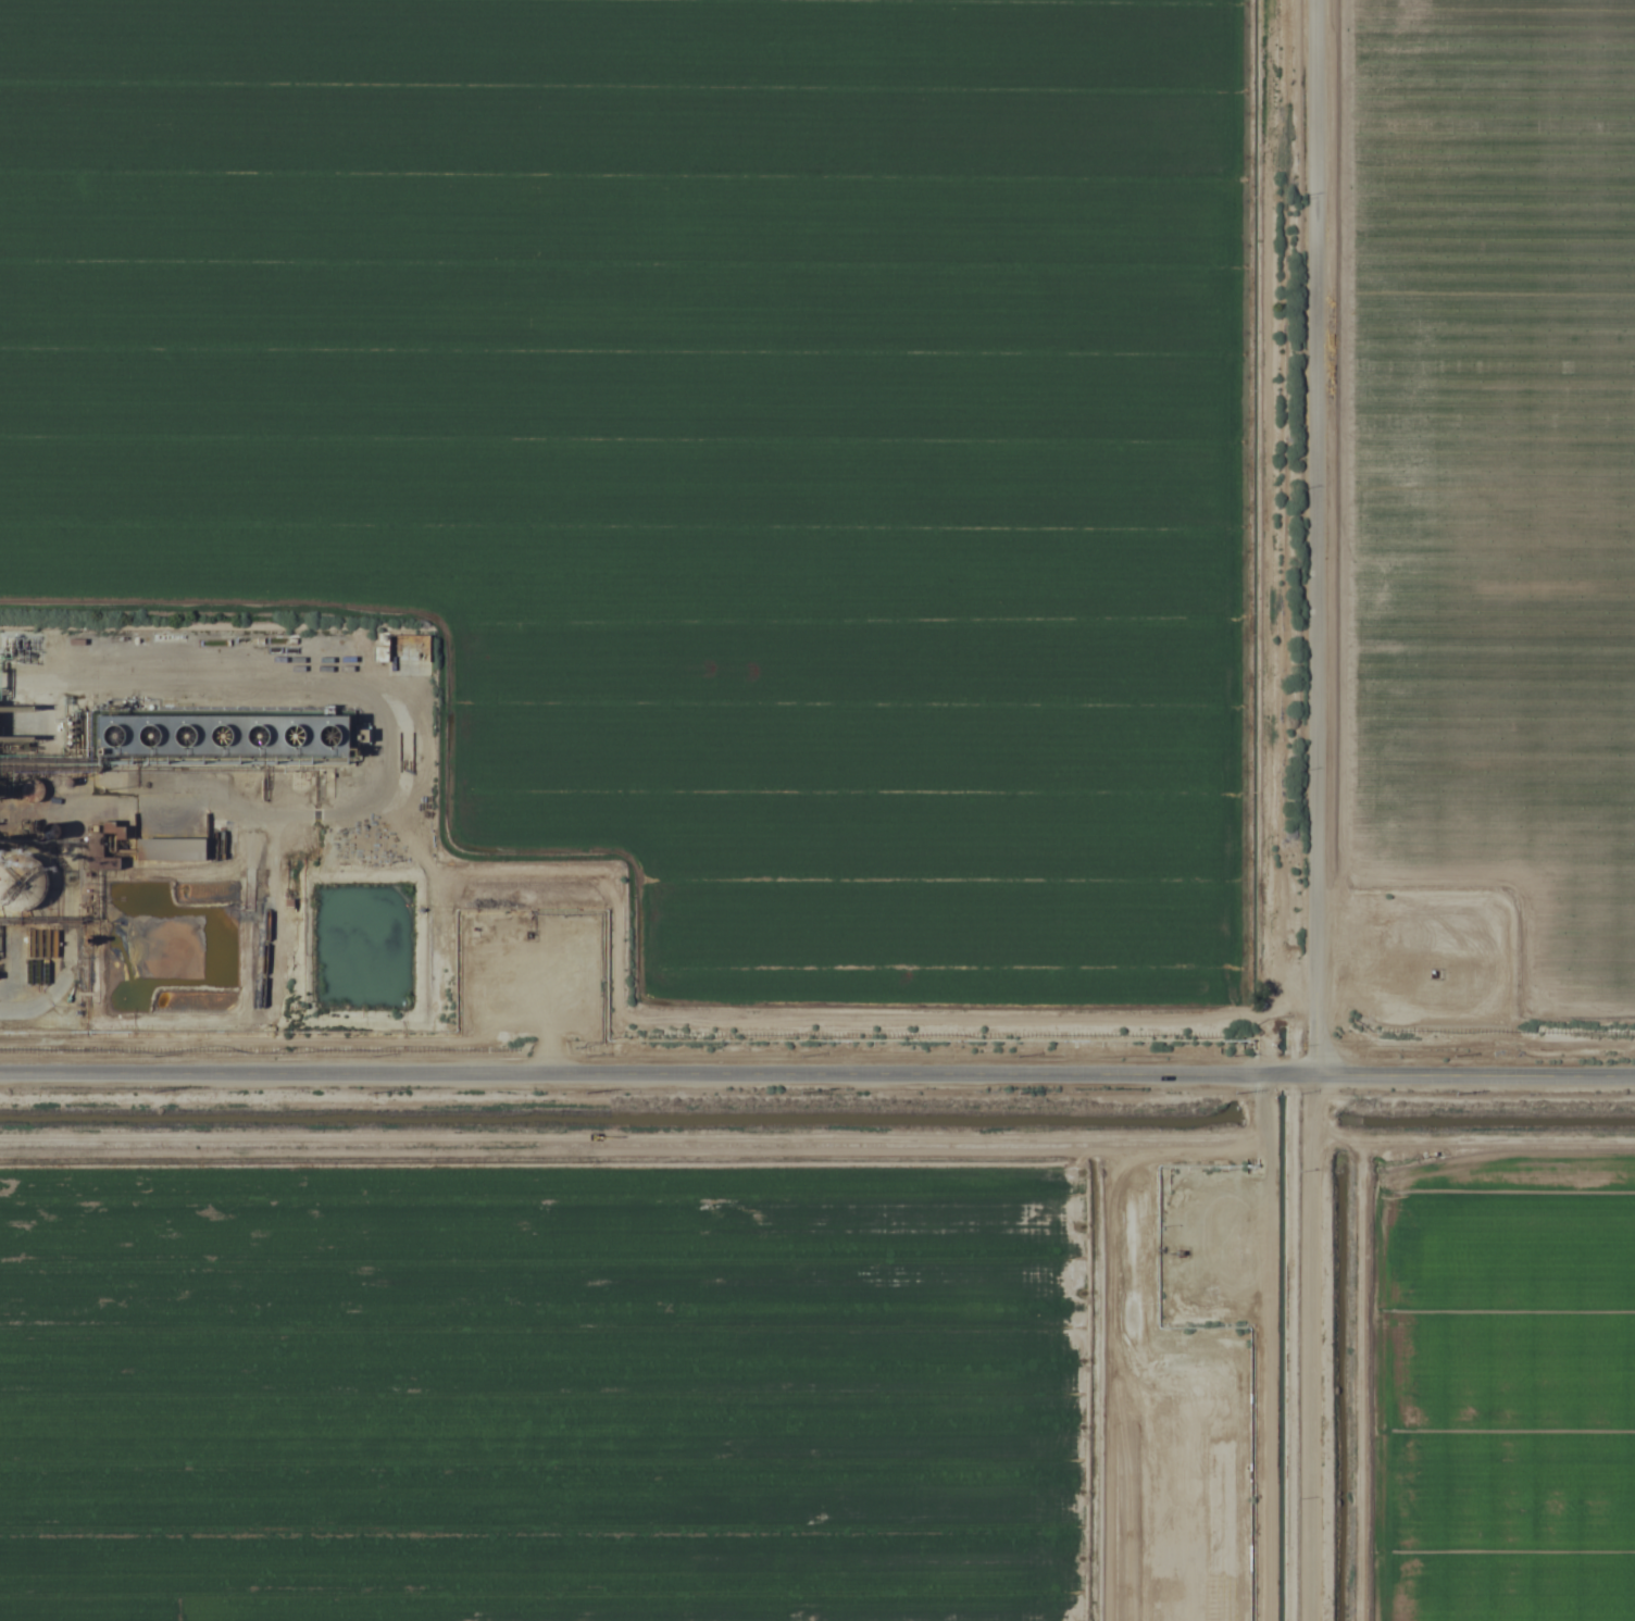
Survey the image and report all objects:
road: (1271, 536)
road: (350, 808)
road: (818, 1072)
road: (1264, 1347)

